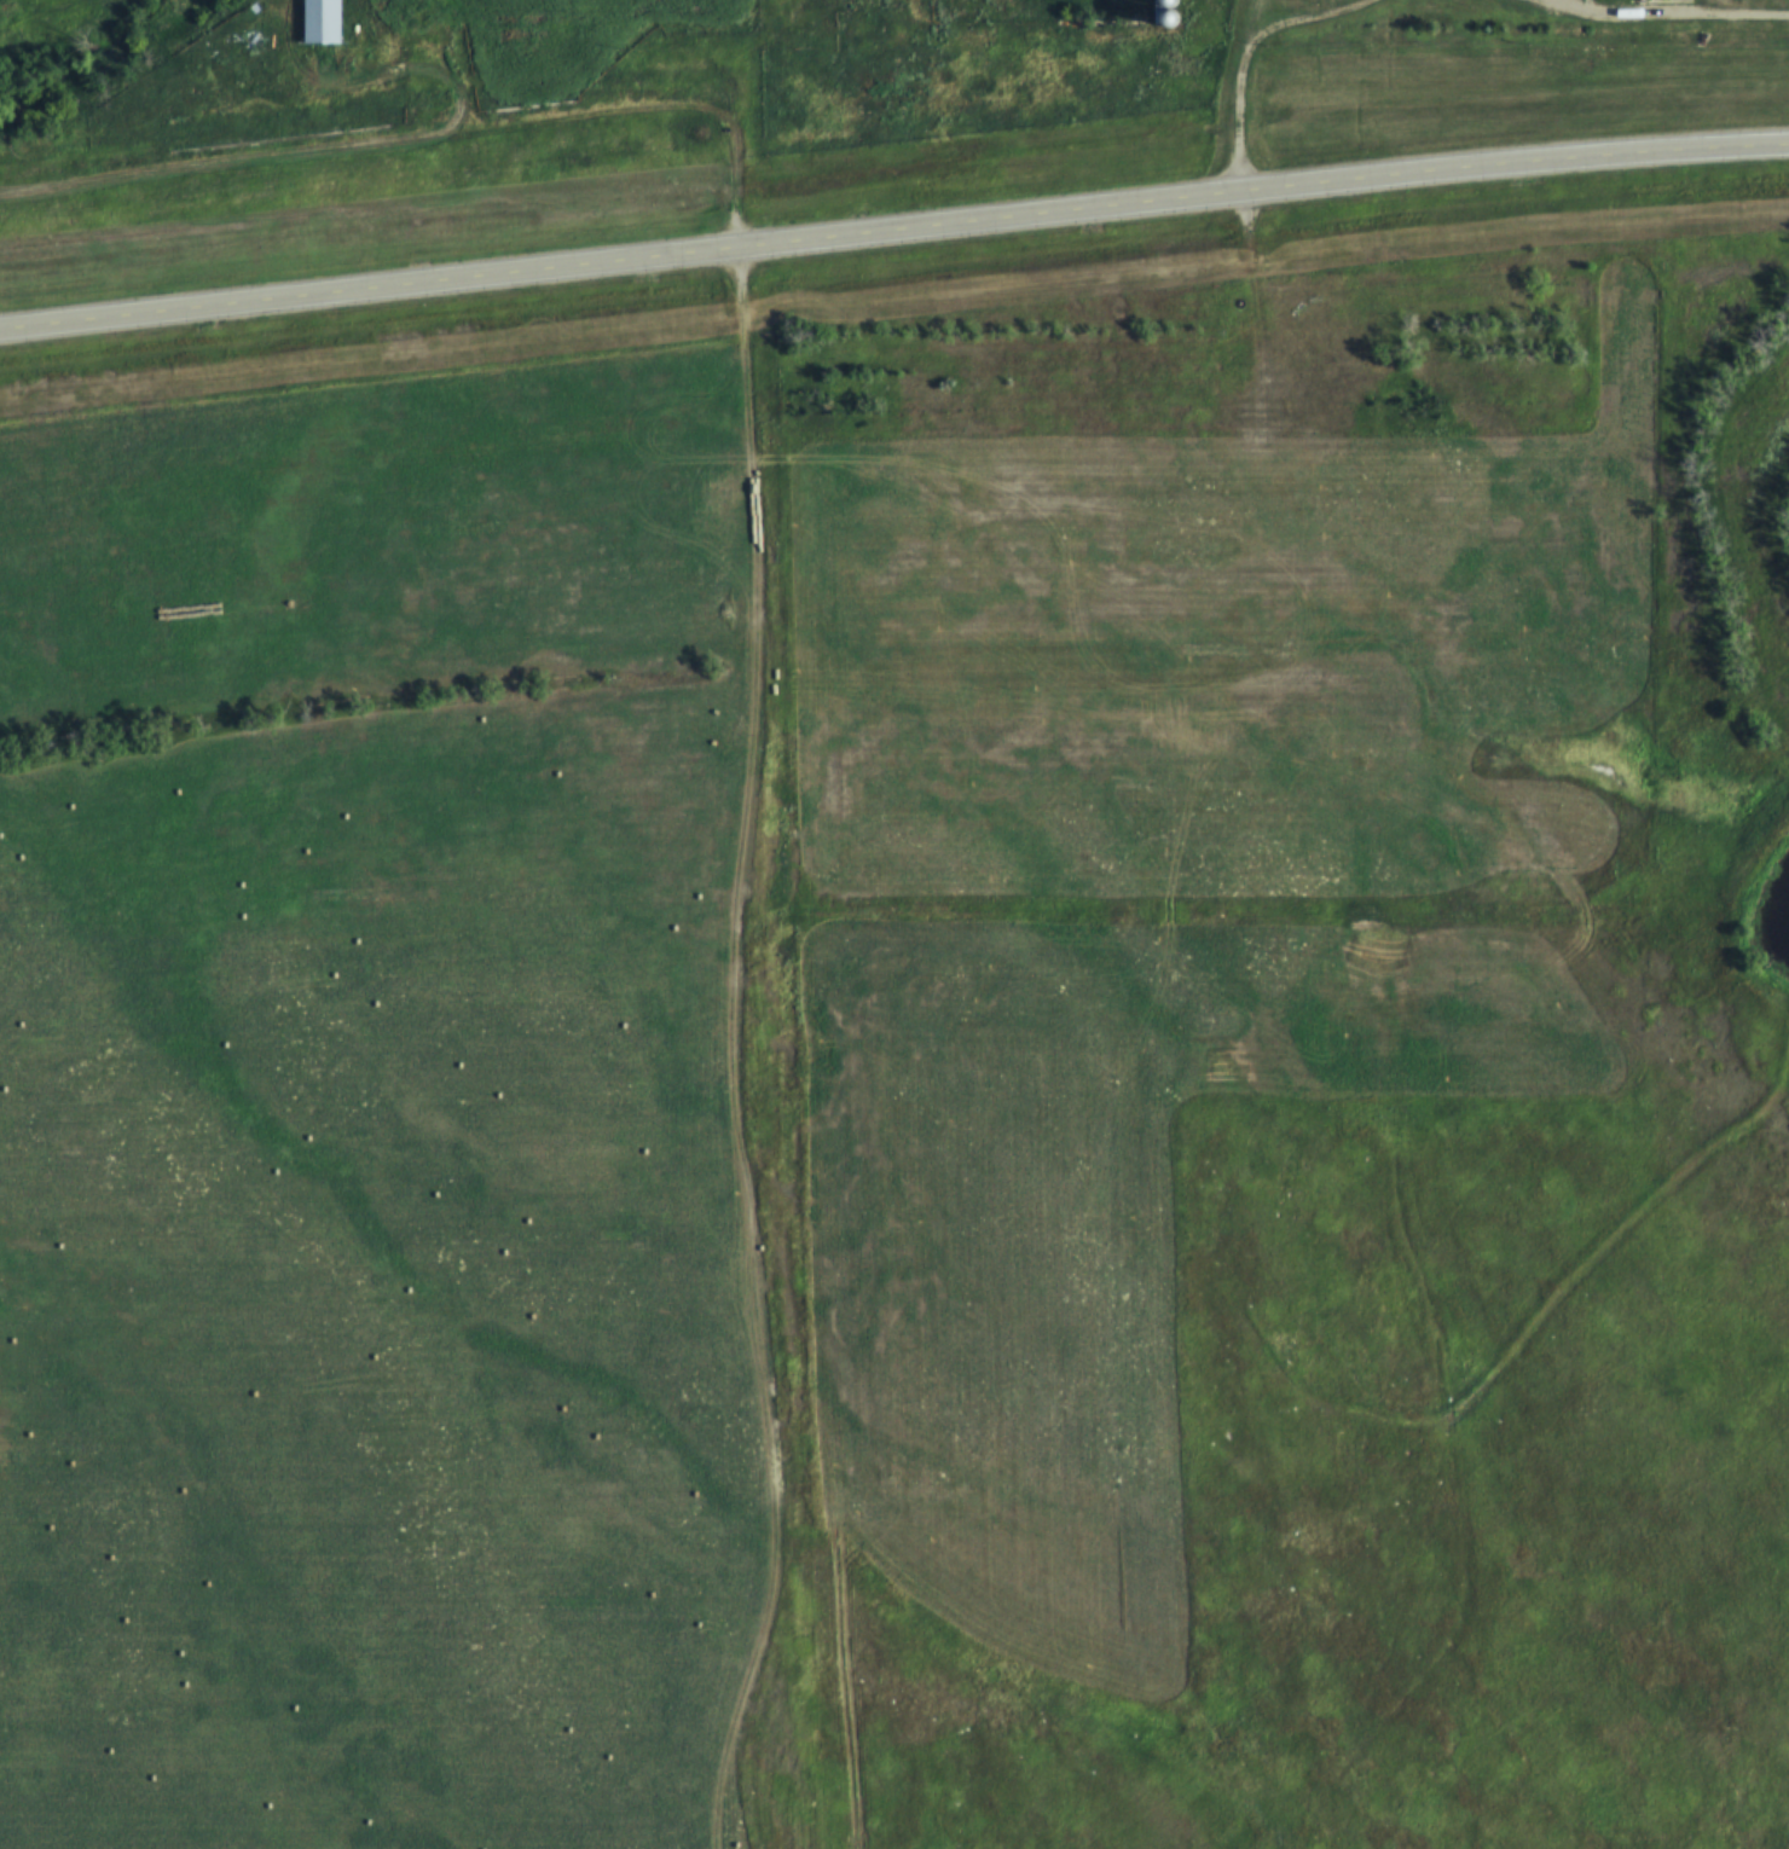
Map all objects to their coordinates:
building: (1163, 13)
building: (320, 21)
building: (412, 23)
road: (893, 233)

